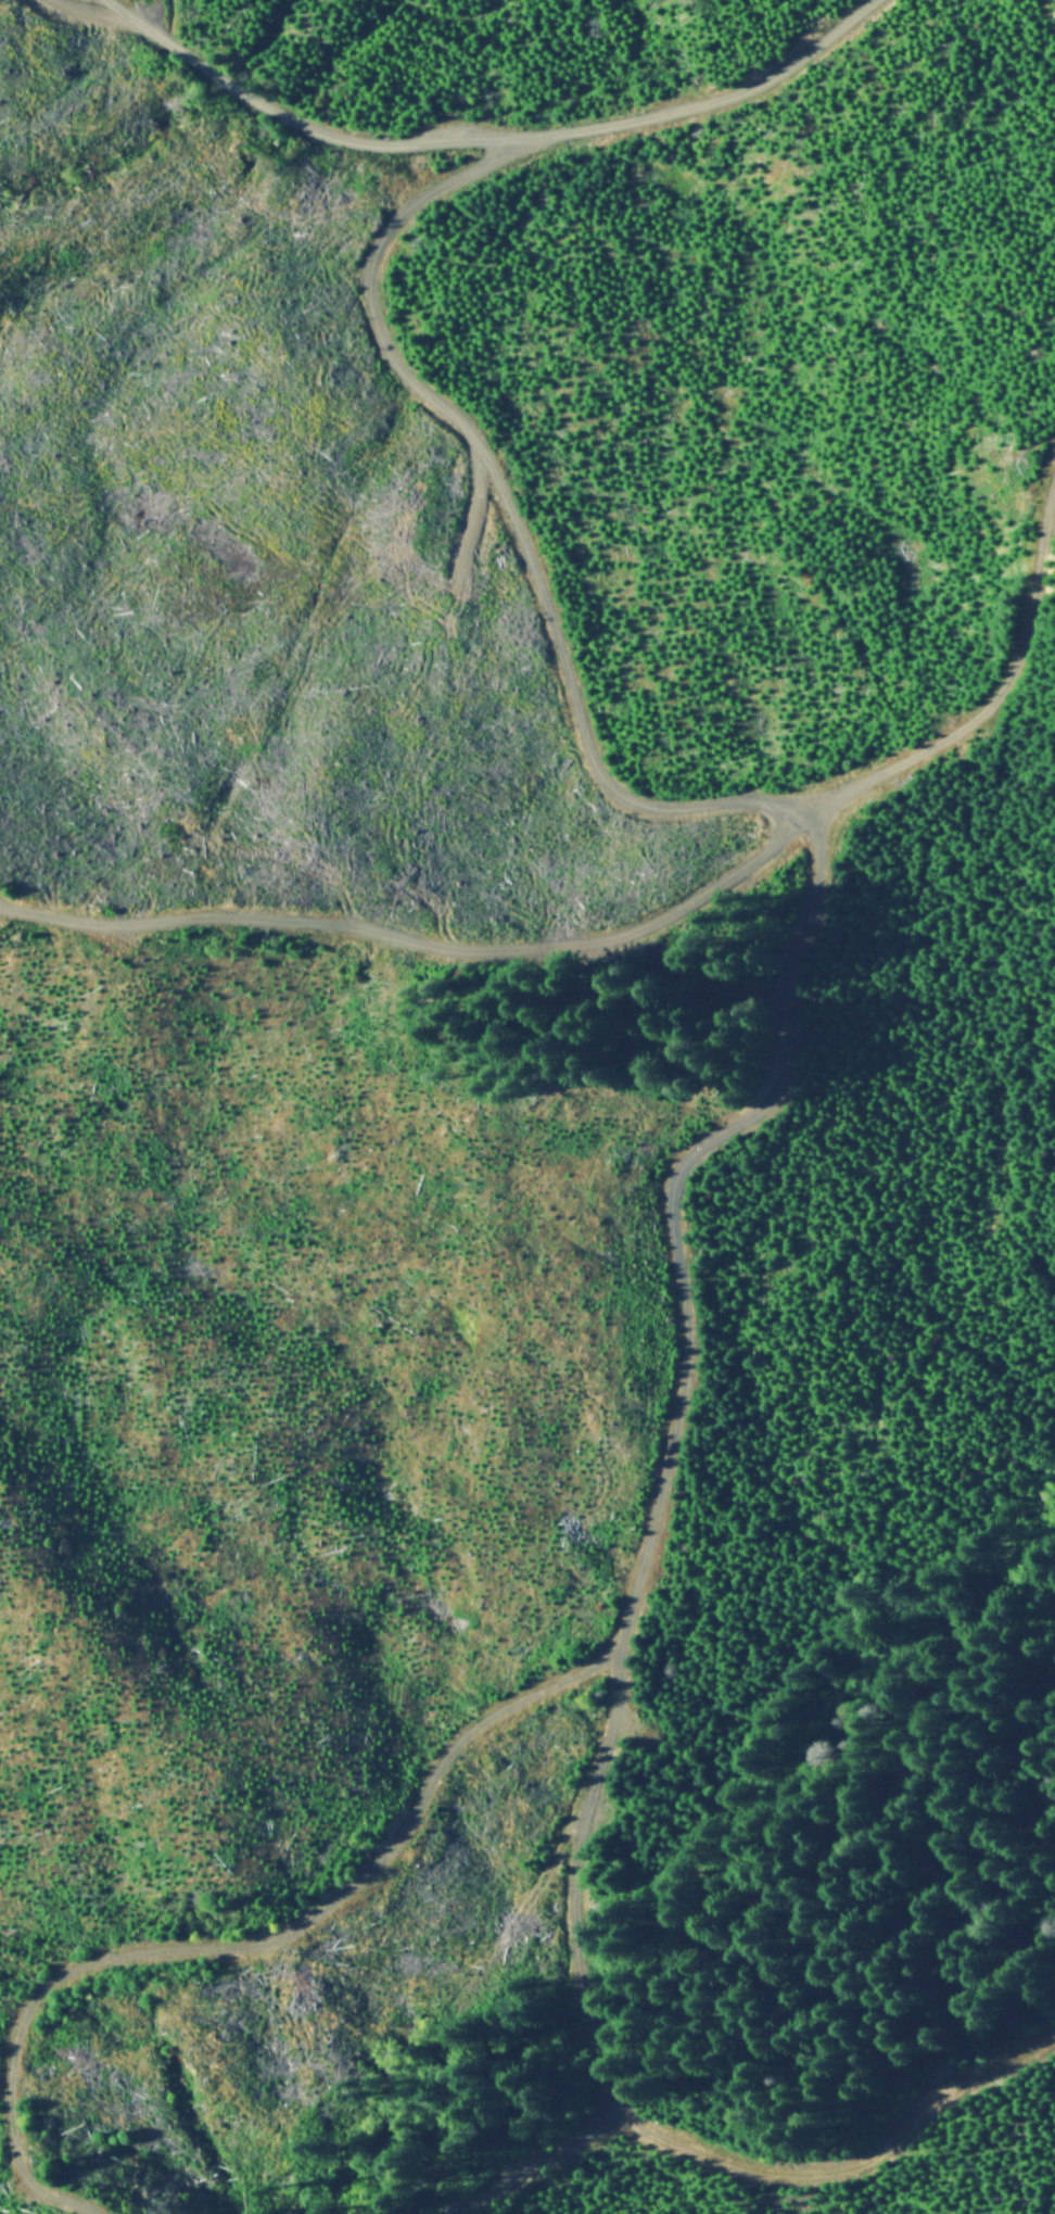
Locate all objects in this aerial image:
road: (482, 136)
road: (574, 711)
road: (681, 1233)
road: (561, 1874)
road: (767, 2171)

